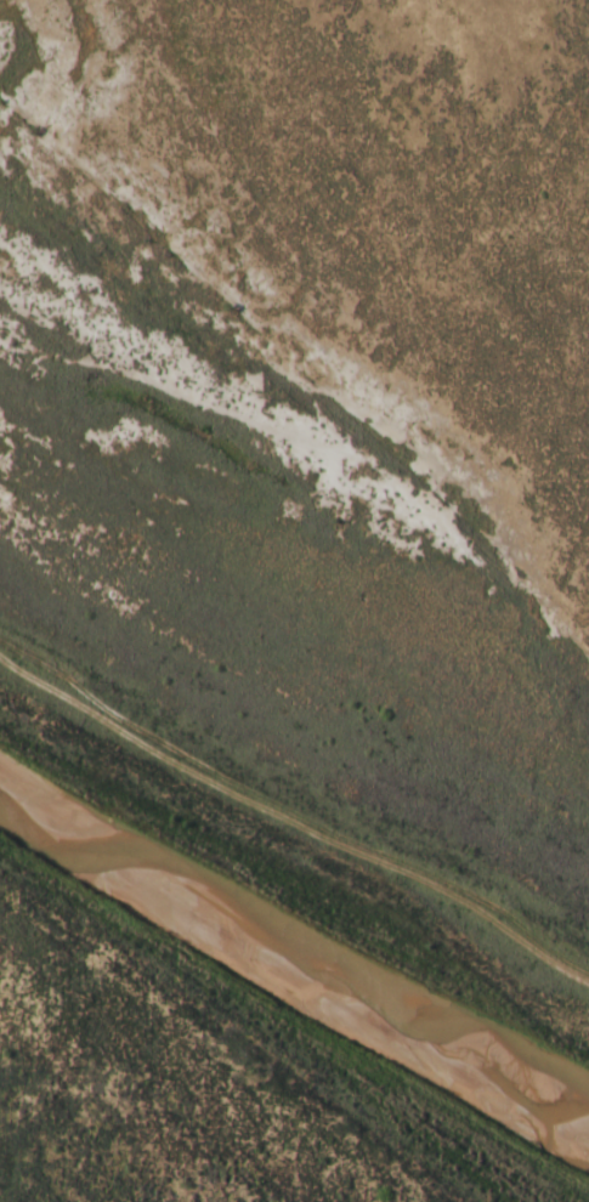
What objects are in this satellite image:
river: (296, 954)

